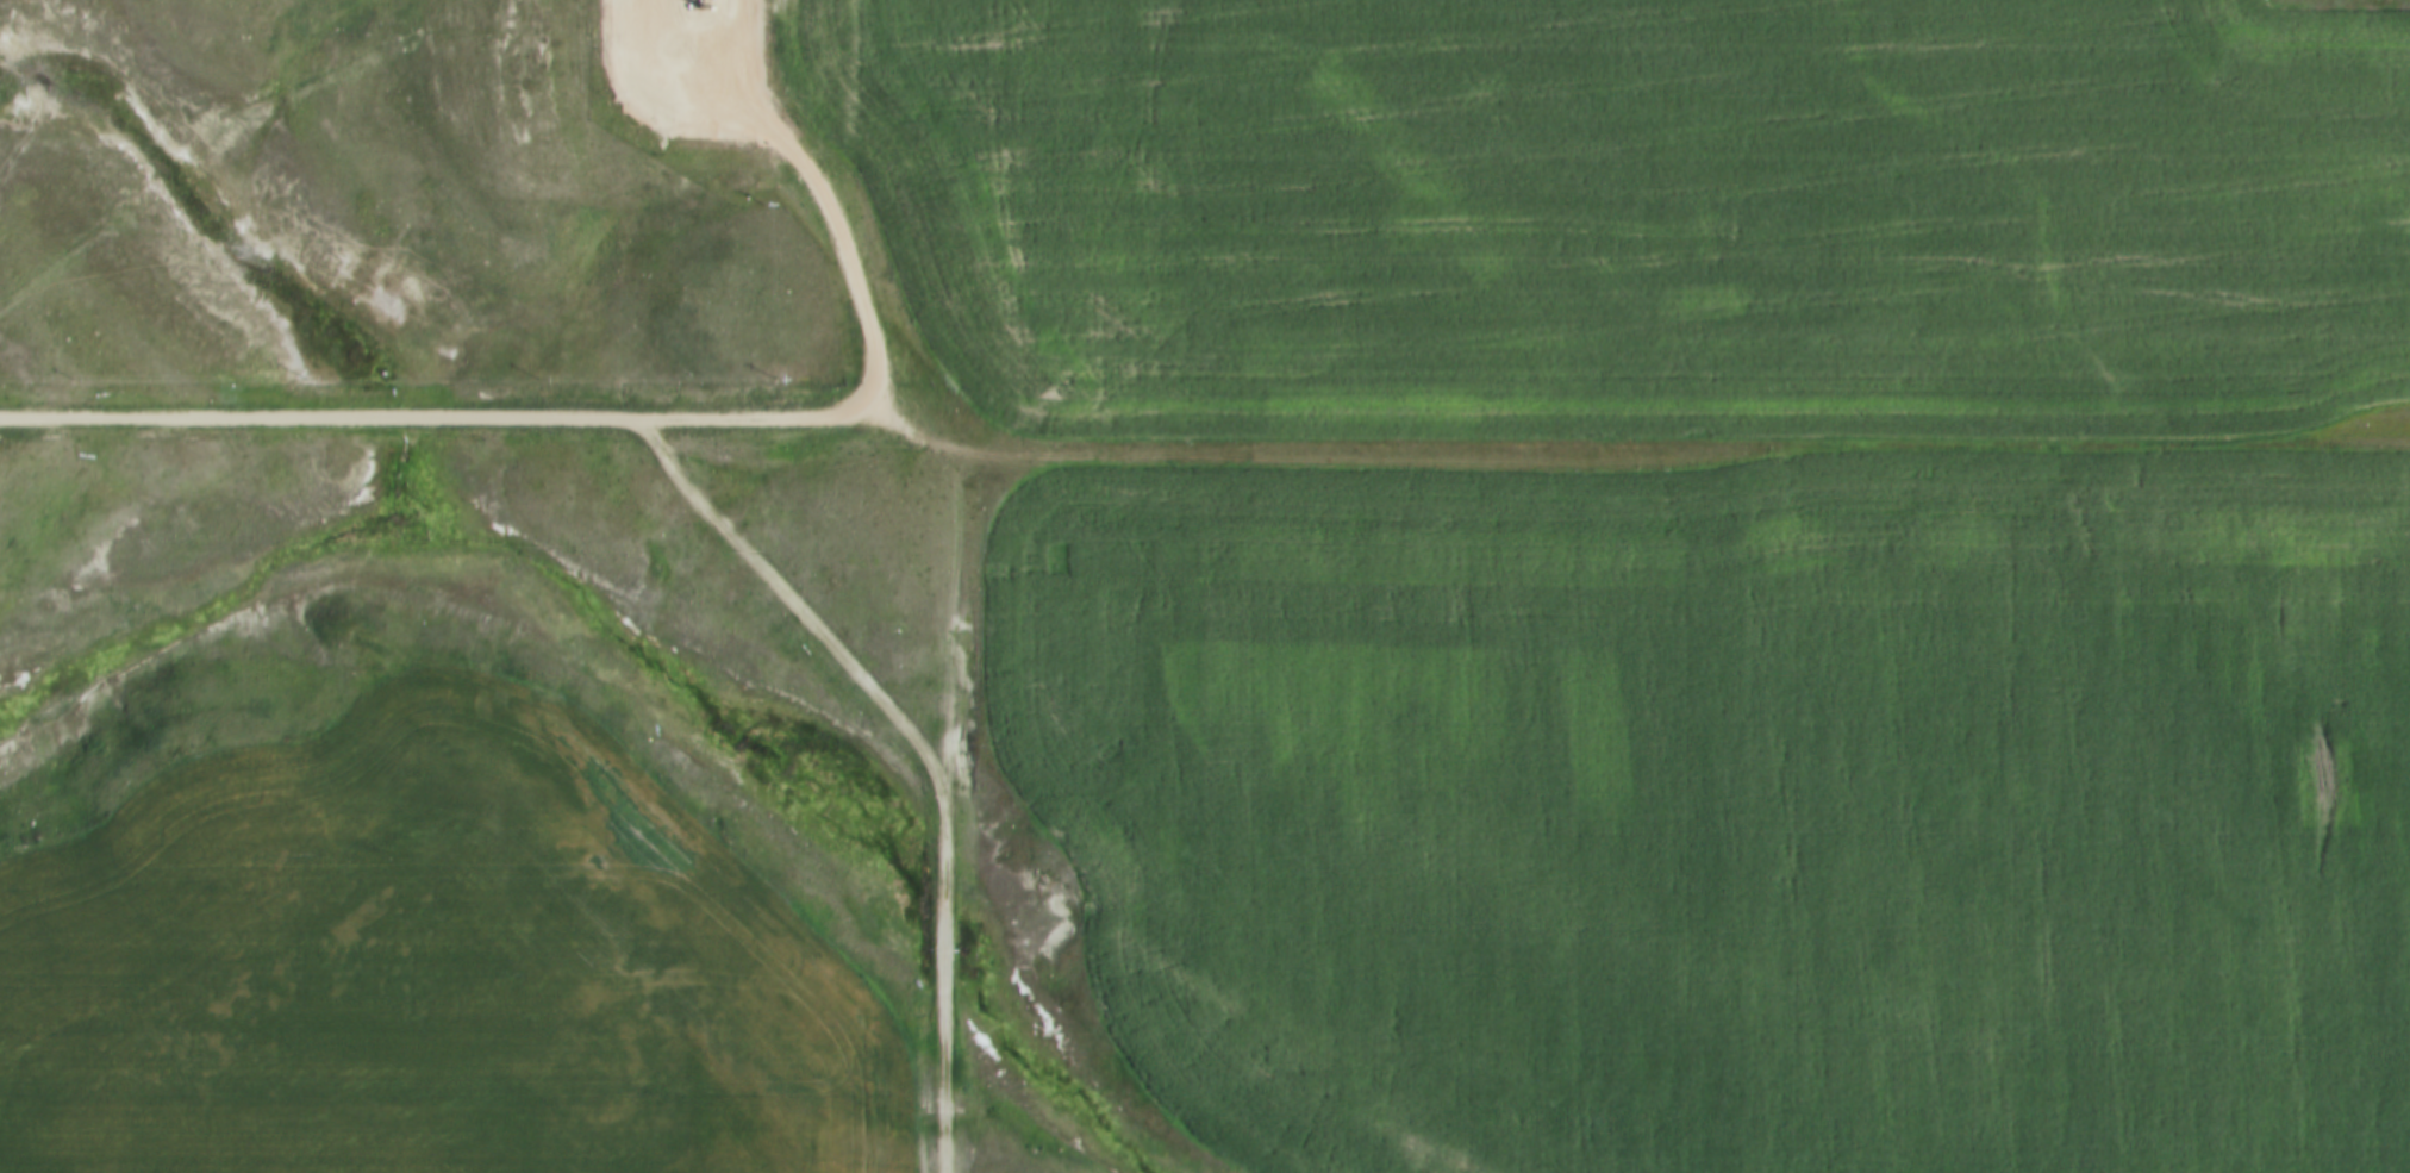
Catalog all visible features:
road: (853, 287)
road: (319, 423)
road: (924, 753)

